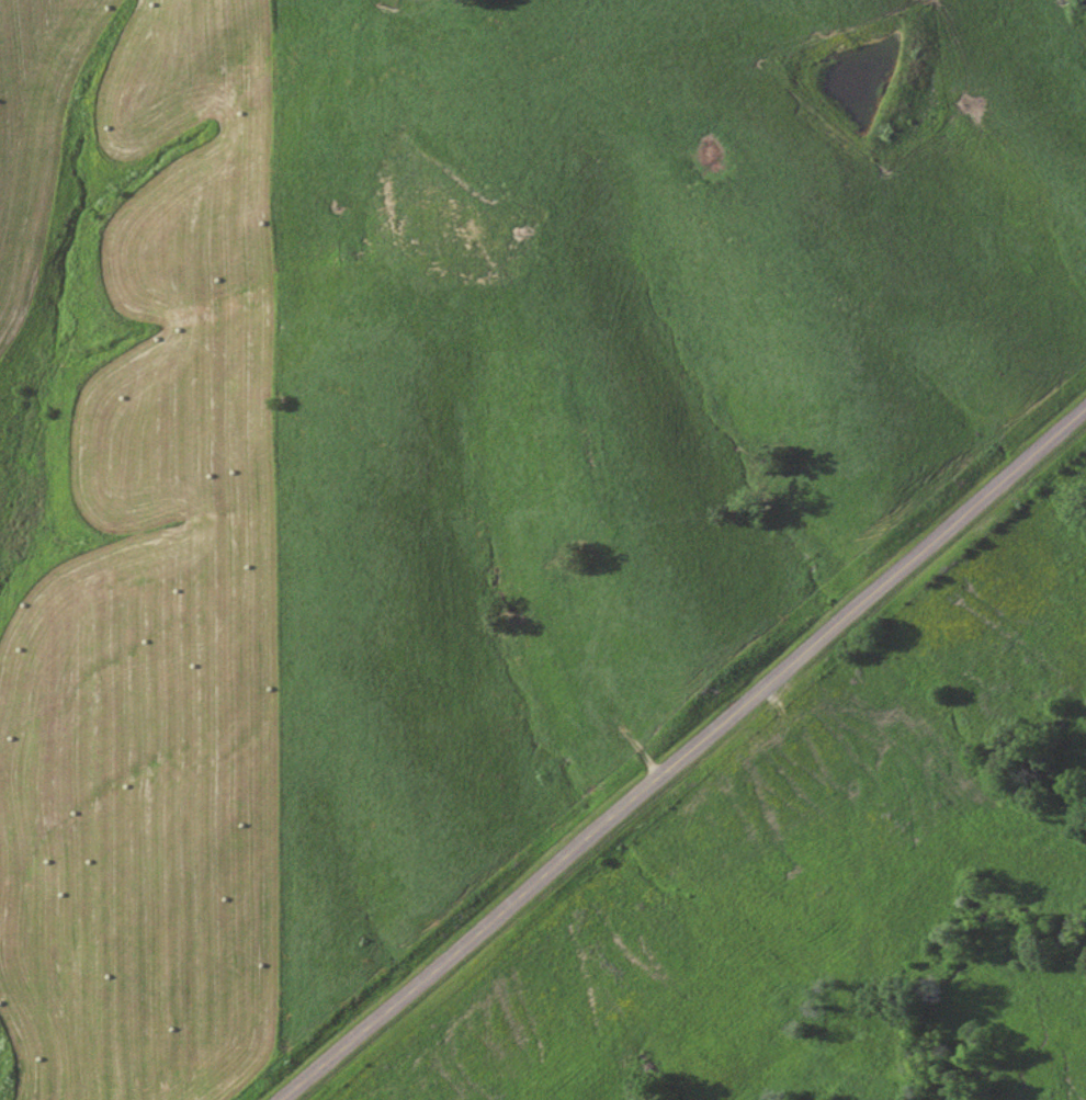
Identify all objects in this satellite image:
road: (683, 755)

